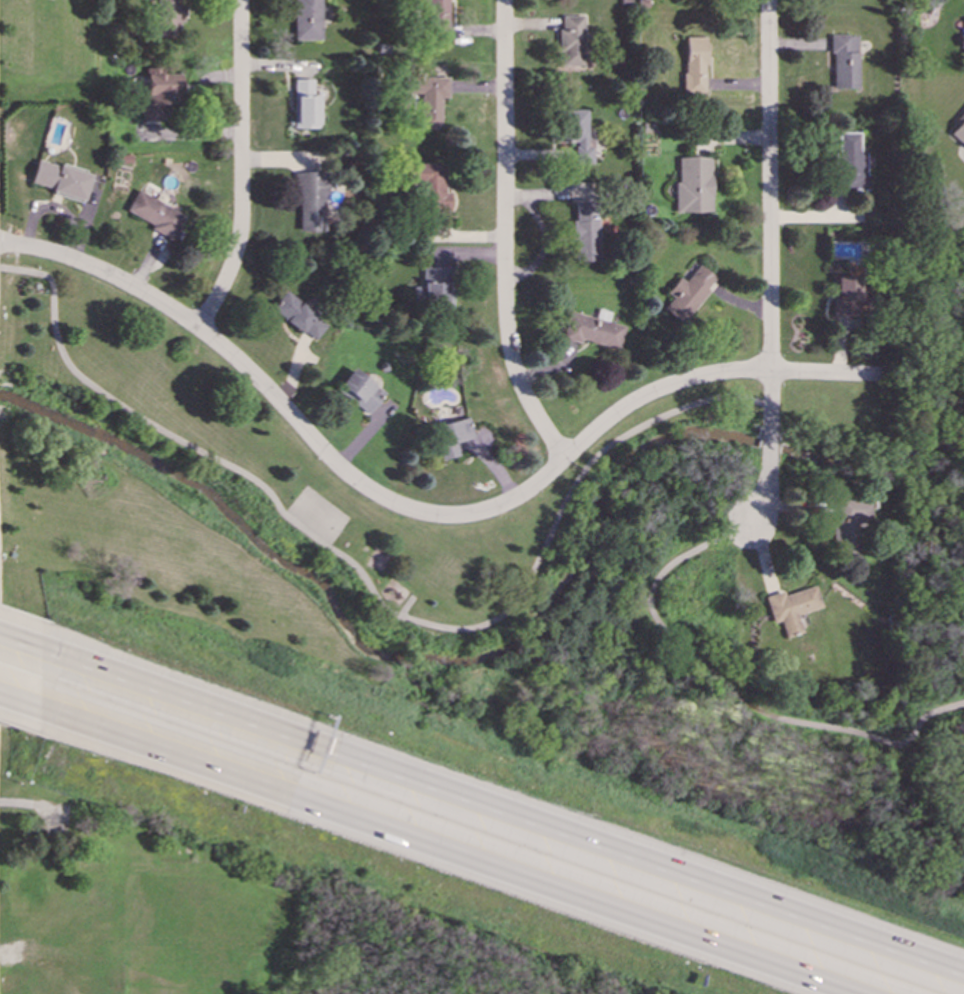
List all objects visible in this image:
building: (435, 16)
building: (167, 17)
building: (307, 19)
building: (571, 39)
building: (844, 60)
building: (694, 64)
building: (158, 92)
building: (427, 96)
building: (305, 104)
building: (959, 130)
building: (578, 134)
building: (849, 162)
road: (240, 169)
building: (59, 178)
building: (692, 184)
building: (429, 185)
building: (309, 201)
building: (154, 214)
building: (584, 231)
road: (504, 235)
road: (770, 267)
building: (433, 287)
building: (687, 292)
building: (846, 295)
building: (298, 315)
building: (590, 329)
building: (358, 390)
building: (449, 436)
road: (420, 511)
park: (317, 514)
building: (847, 521)
park: (453, 550)
park: (929, 569)
road: (371, 589)
road: (405, 607)
building: (790, 607)
road: (733, 696)
road: (2, 698)
road: (15, 802)
road: (482, 810)
road: (425, 846)
park: (229, 918)

